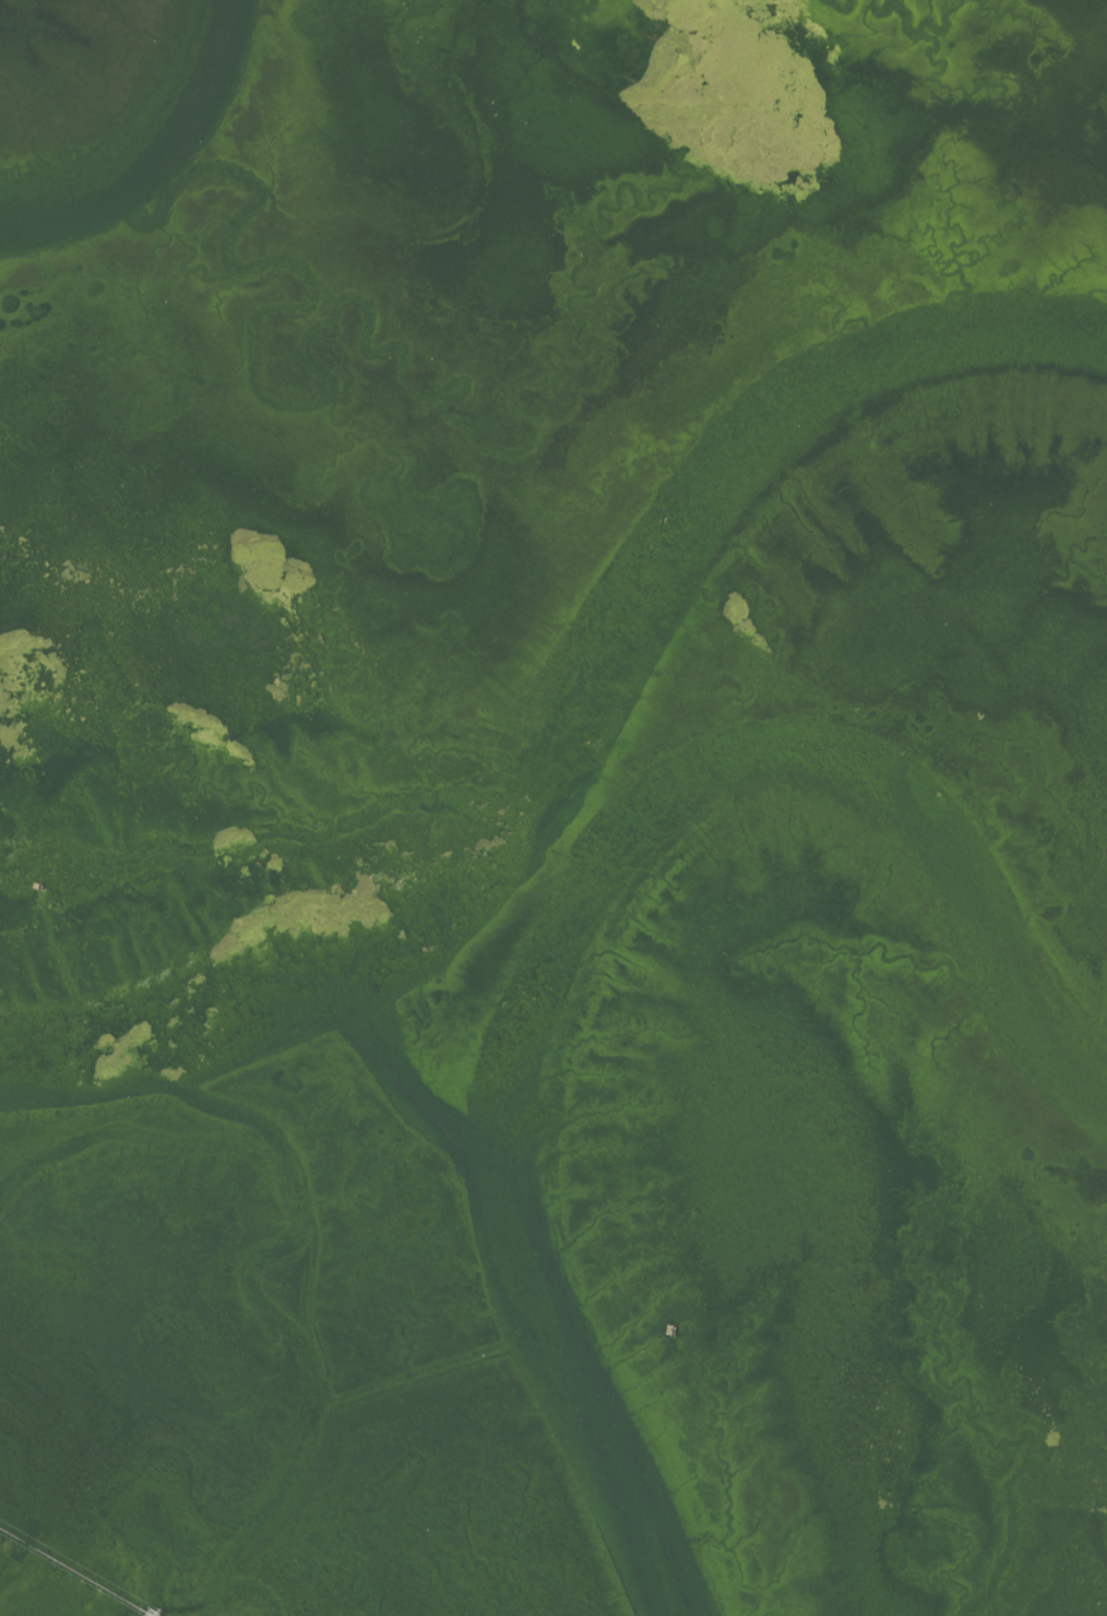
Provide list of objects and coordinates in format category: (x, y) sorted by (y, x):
building: (126, 470)
building: (35, 887)
building: (669, 1331)
pier: (74, 1572)

